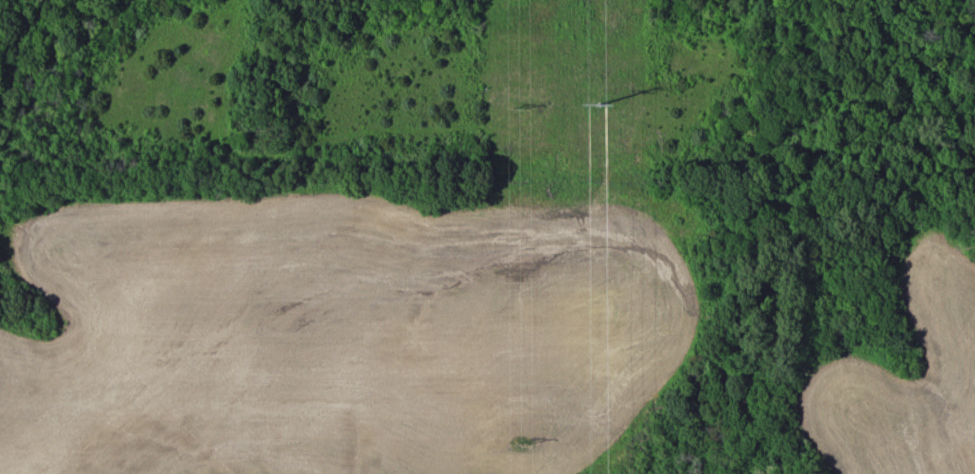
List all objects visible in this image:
power tower: (600, 103)
power tower: (518, 111)
power tower: (515, 448)

